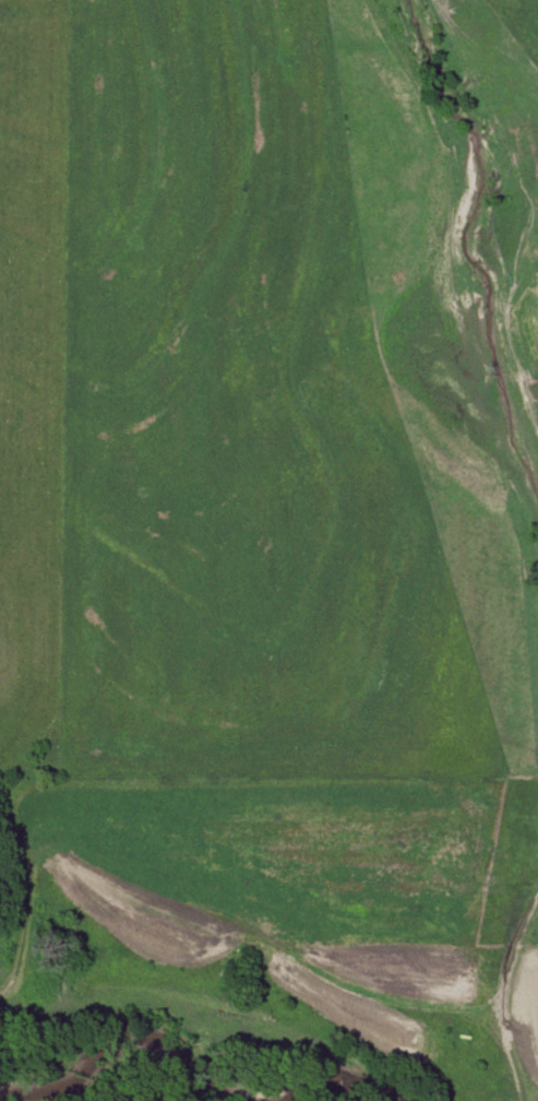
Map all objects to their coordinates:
river: (131, 1053)
river: (359, 1096)

